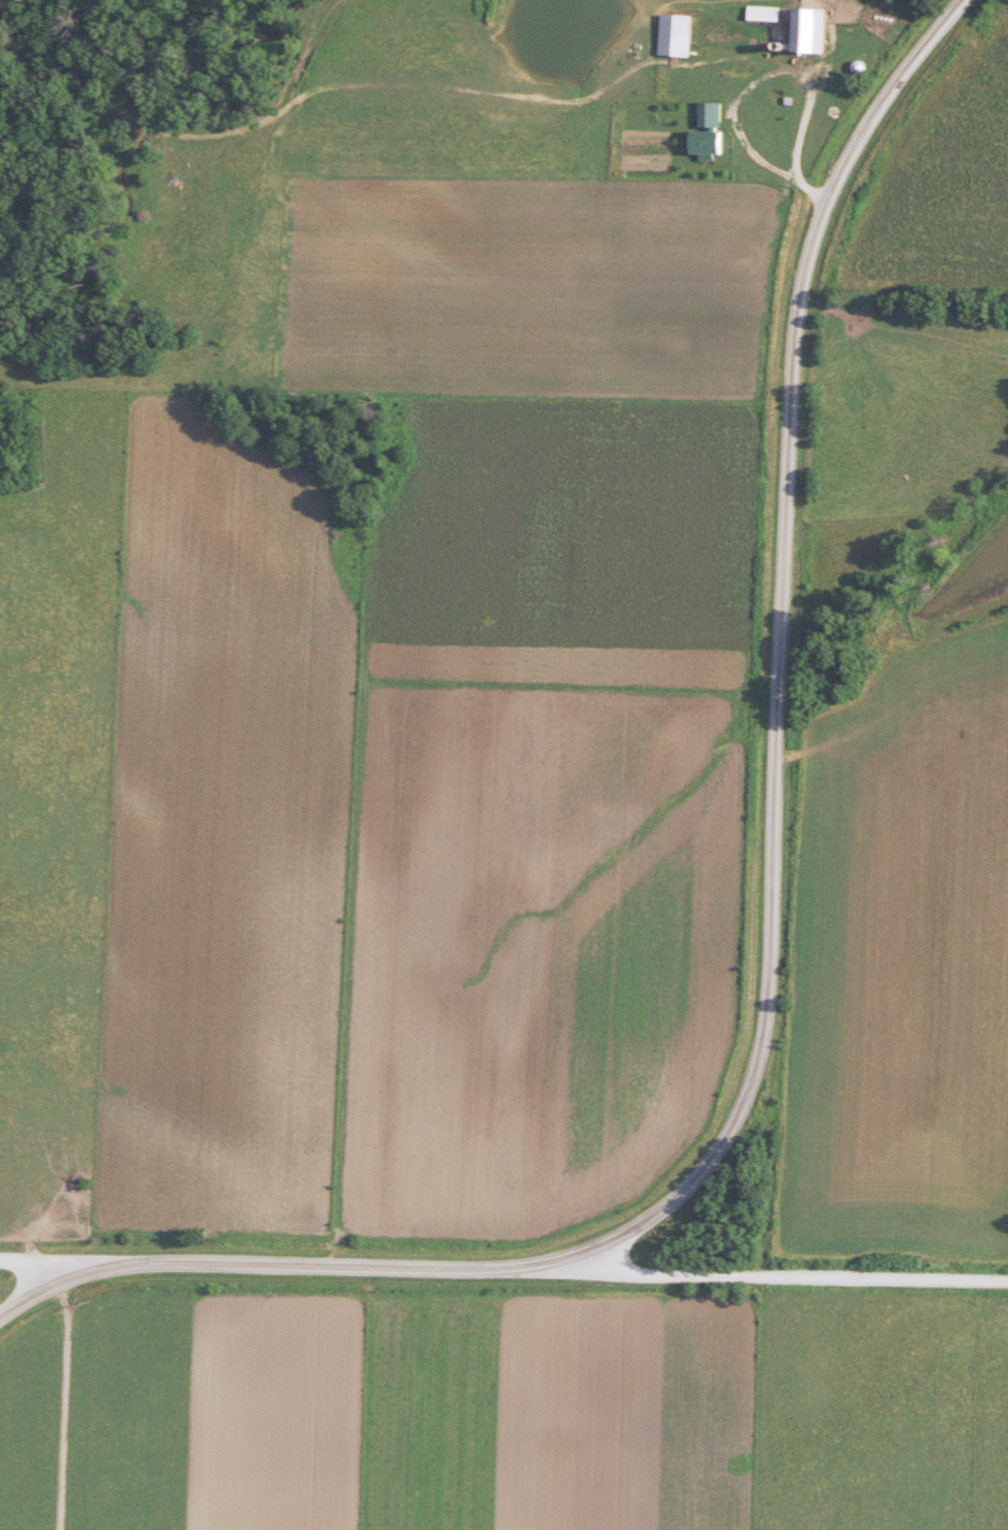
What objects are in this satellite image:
building: (819, 31)
building: (680, 34)
road: (815, 85)
building: (712, 116)
road: (782, 646)
road: (41, 1265)
road: (331, 1266)
road: (792, 1278)
road: (40, 1294)

